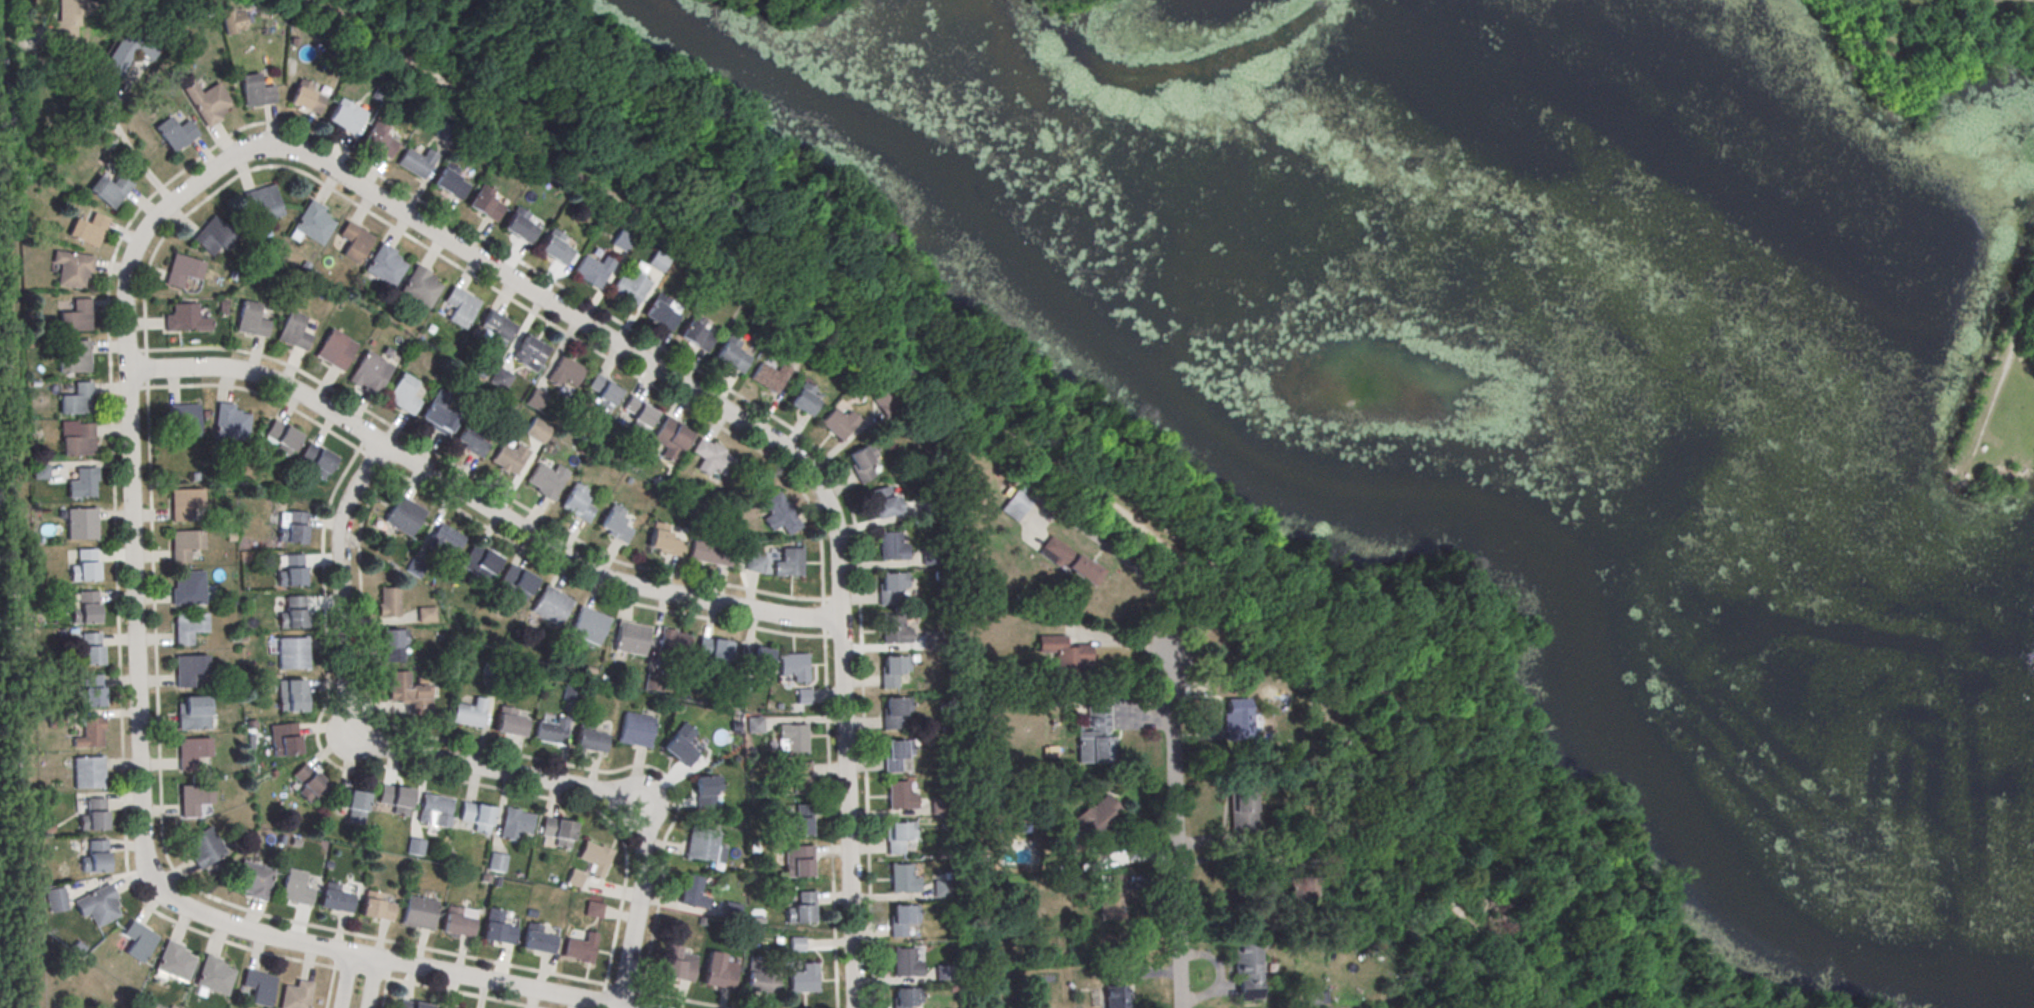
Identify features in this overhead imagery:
road: (1047, 1)
road: (505, 8)
building: (69, 17)
road: (457, 17)
building: (228, 19)
building: (125, 53)
building: (254, 90)
building: (304, 96)
building: (207, 101)
road: (660, 114)
road: (107, 116)
building: (345, 116)
building: (174, 132)
building: (444, 132)
road: (556, 135)
road: (713, 137)
building: (377, 139)
building: (415, 162)
building: (448, 180)
road: (682, 188)
building: (109, 189)
building: (263, 200)
building: (484, 202)
building: (312, 223)
building: (520, 225)
building: (87, 229)
building: (213, 236)
building: (621, 240)
building: (353, 241)
building: (554, 246)
building: (657, 261)
building: (384, 265)
river: (1416, 265)
building: (72, 267)
building: (183, 269)
building: (593, 270)
road: (483, 283)
road: (770, 284)
building: (420, 286)
road: (765, 287)
building: (628, 289)
building: (459, 306)
building: (661, 311)
building: (76, 316)
building: (186, 318)
building: (251, 319)
road: (833, 324)
building: (496, 328)
building: (293, 331)
building: (696, 333)
building: (335, 350)
building: (532, 351)
building: (732, 353)
building: (75, 357)
road: (2006, 361)
building: (370, 372)
building: (565, 372)
building: (770, 376)
road: (974, 378)
building: (501, 379)
building: (603, 390)
building: (403, 394)
road: (707, 397)
building: (535, 398)
park: (1429, 398)
building: (77, 399)
building: (805, 399)
building: (886, 404)
park: (1990, 409)
building: (439, 411)
building: (638, 413)
building: (184, 418)
road: (1001, 420)
building: (839, 422)
building: (229, 425)
building: (538, 431)
building: (282, 438)
building: (471, 438)
building: (670, 438)
building: (79, 440)
road: (806, 440)
building: (509, 457)
building: (713, 458)
road: (112, 460)
building: (318, 460)
building: (862, 461)
building: (40, 471)
building: (547, 478)
road: (479, 480)
building: (82, 483)
building: (883, 502)
building: (185, 503)
road: (478, 503)
building: (577, 503)
building: (1012, 506)
building: (924, 507)
building: (780, 513)
building: (404, 516)
road: (15, 521)
road: (479, 523)
building: (81, 524)
building: (615, 524)
building: (294, 528)
building: (444, 539)
building: (663, 540)
building: (185, 544)
building: (892, 546)
building: (711, 551)
road: (1116, 552)
building: (930, 556)
building: (1071, 560)
building: (481, 561)
building: (790, 562)
building: (755, 564)
building: (84, 566)
building: (413, 567)
building: (292, 571)
road: (1220, 576)
building: (518, 581)
building: (891, 585)
building: (188, 588)
building: (388, 601)
building: (552, 606)
building: (83, 609)
building: (426, 613)
building: (294, 614)
building: (588, 625)
road: (1321, 625)
building: (189, 628)
building: (895, 630)
road: (1467, 631)
road: (1183, 634)
building: (631, 638)
building: (931, 640)
road: (1119, 642)
road: (1449, 642)
building: (392, 643)
building: (670, 643)
building: (88, 650)
building: (715, 651)
building: (292, 653)
building: (1065, 656)
road: (1307, 656)
building: (756, 659)
building: (490, 666)
building: (795, 666)
building: (189, 669)
building: (893, 670)
road: (1392, 674)
building: (654, 682)
building: (90, 691)
building: (409, 691)
building: (571, 693)
building: (291, 696)
building: (804, 696)
building: (192, 710)
building: (895, 711)
building: (469, 713)
road: (1139, 717)
building: (1238, 719)
building: (510, 723)
building: (755, 725)
building: (552, 730)
building: (635, 730)
building: (90, 733)
building: (1095, 736)
building: (793, 737)
road: (1199, 737)
building: (590, 738)
building: (284, 739)
road: (341, 744)
building: (680, 745)
road: (1481, 748)
building: (193, 751)
road: (503, 752)
building: (896, 754)
road: (444, 759)
road: (1485, 759)
road: (1421, 765)
road: (395, 767)
building: (89, 772)
building: (799, 779)
building: (308, 782)
road: (653, 788)
building: (704, 792)
building: (900, 796)
road: (1466, 798)
building: (195, 799)
building: (397, 799)
road: (830, 803)
building: (353, 804)
building: (1242, 805)
building: (939, 806)
road: (140, 809)
building: (435, 811)
building: (94, 814)
building: (477, 816)
road: (1441, 816)
building: (799, 821)
building: (514, 824)
building: (1098, 824)
road: (1174, 825)
track: (1447, 829)
building: (558, 831)
building: (899, 836)
road: (1214, 842)
building: (701, 844)
building: (415, 846)
building: (205, 847)
road: (1143, 853)
building: (95, 856)
building: (595, 858)
building: (497, 862)
building: (801, 863)
road: (1441, 872)
building: (575, 879)
building: (903, 879)
building: (254, 880)
road: (1150, 881)
road: (1467, 881)
road: (193, 888)
building: (296, 888)
building: (941, 889)
building: (692, 892)
road: (1465, 895)
building: (336, 898)
building: (1113, 898)
building: (56, 900)
building: (98, 905)
road: (1462, 905)
building: (377, 908)
road: (1531, 908)
building: (802, 909)
building: (594, 910)
building: (731, 911)
building: (419, 913)
building: (901, 919)
road: (1563, 920)
building: (702, 922)
building: (457, 923)
building: (498, 929)
road: (1522, 929)
building: (538, 940)
building: (138, 941)
building: (796, 944)
road: (1572, 944)
building: (581, 949)
building: (176, 961)
building: (678, 964)
building: (905, 964)
road: (342, 969)
building: (719, 971)
building: (1248, 971)
road: (1564, 971)
road: (1148, 973)
building: (943, 974)
road: (1218, 974)
building: (215, 976)
building: (761, 977)
building: (804, 979)
road: (344, 981)
road: (1587, 981)
road: (375, 984)
building: (259, 987)
road: (330, 988)
building: (1113, 988)
road: (1226, 989)
road: (384, 993)
building: (296, 995)
building: (906, 997)
building: (411, 1005)
building: (444, 1007)

